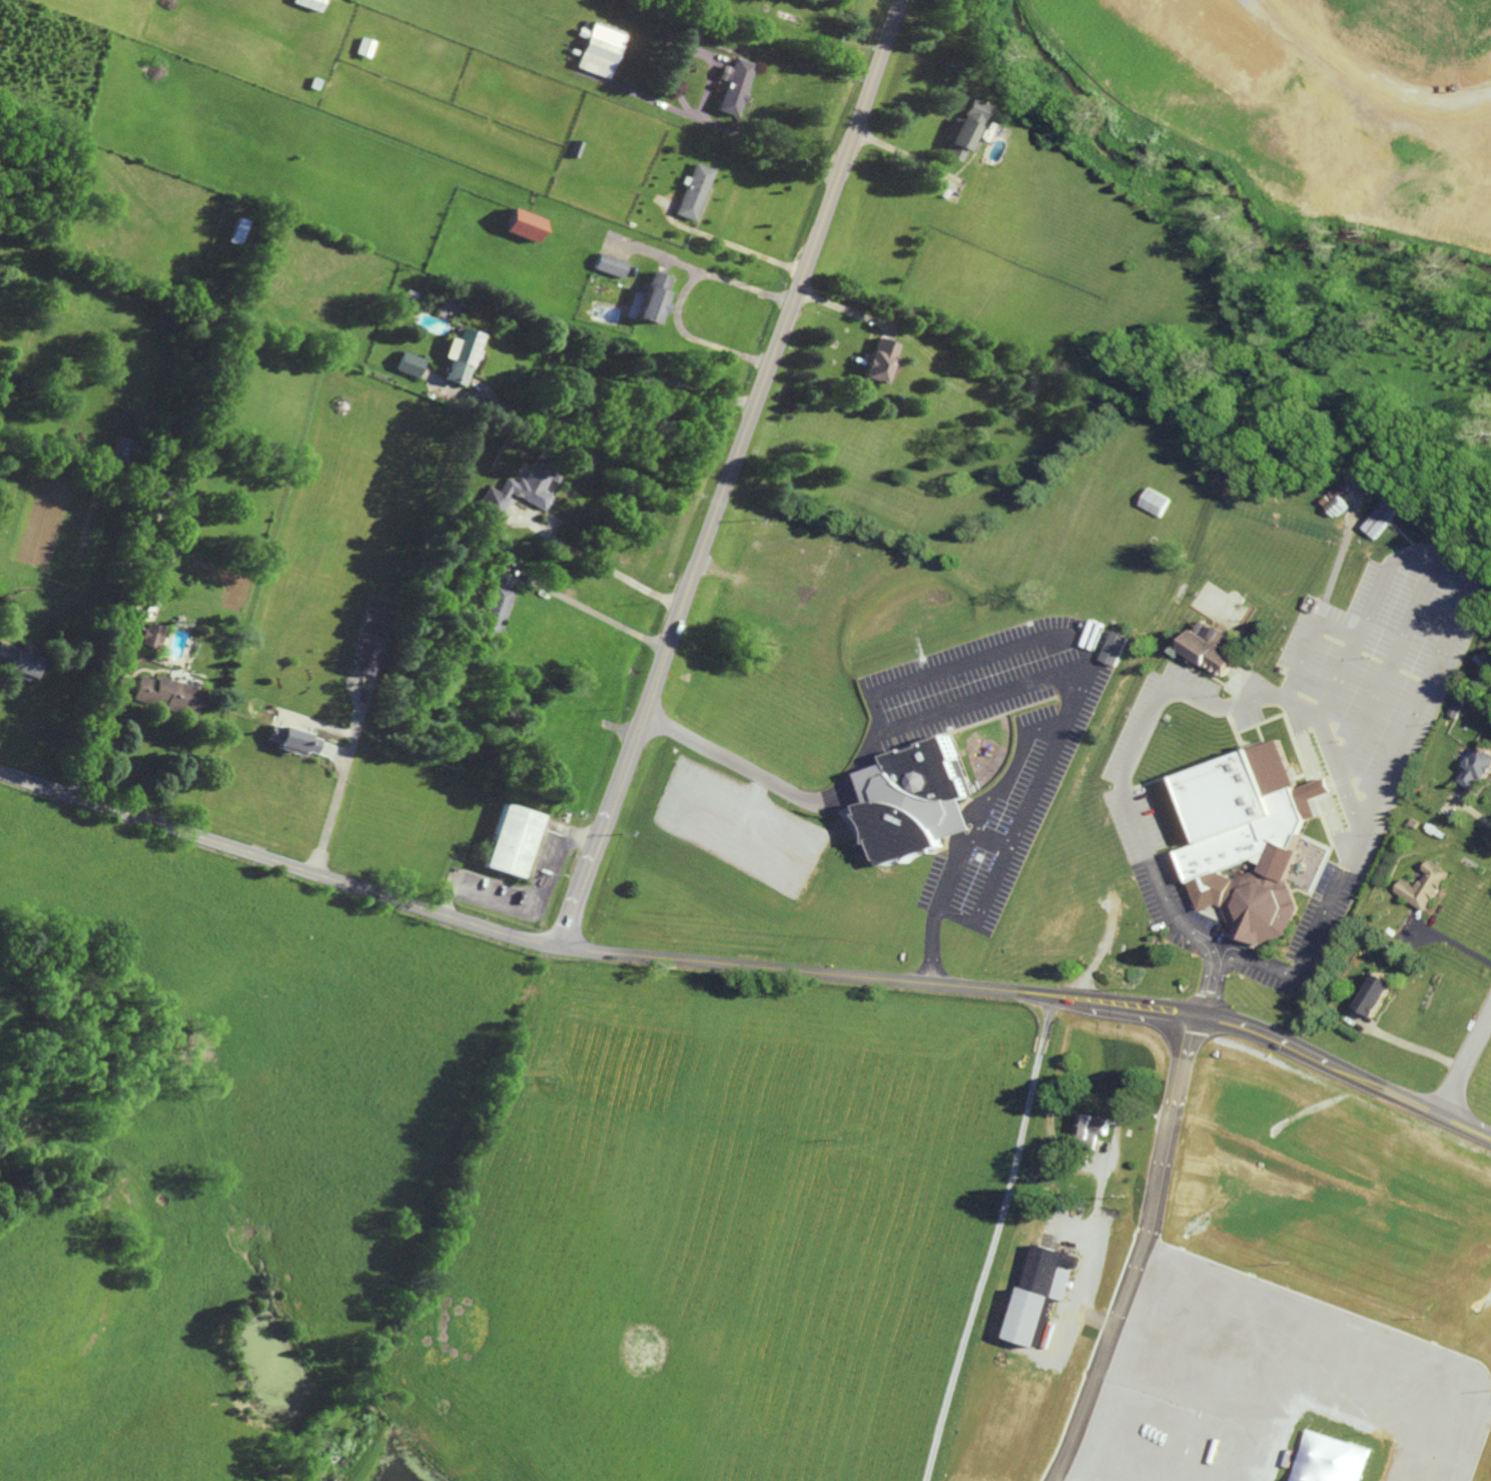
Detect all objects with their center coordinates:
building: (366, 47)
building: (602, 50)
road: (1360, 78)
building: (735, 86)
road: (695, 111)
building: (963, 130)
building: (577, 148)
road: (898, 151)
building: (1481, 184)
building: (695, 191)
building: (526, 225)
road: (726, 243)
building: (613, 265)
building: (653, 305)
road: (843, 310)
building: (463, 356)
road: (771, 356)
building: (879, 360)
building: (412, 364)
road: (621, 385)
building: (122, 449)
building: (1340, 490)
building: (520, 491)
building: (1380, 519)
road: (1333, 562)
road: (611, 570)
road: (1381, 574)
road: (1412, 607)
building: (496, 610)
road: (594, 613)
building: (376, 624)
building: (153, 636)
building: (1111, 648)
building: (1208, 648)
building: (365, 657)
building: (20, 660)
road: (976, 662)
road: (1425, 670)
building: (169, 694)
road: (1299, 708)
road: (925, 717)
road: (321, 725)
road: (94, 735)
building: (292, 740)
road: (1018, 758)
road: (1347, 764)
building: (1474, 769)
road: (342, 778)
building: (913, 802)
road: (1470, 816)
road: (979, 818)
road: (601, 830)
building: (1247, 839)
building: (512, 840)
road: (956, 857)
building: (1421, 886)
road: (988, 889)
road: (1164, 896)
road: (535, 907)
road: (953, 920)
road: (929, 948)
road: (746, 967)
road: (1211, 982)
building: (1374, 994)
road: (1413, 1046)
road: (1466, 1066)
building: (1092, 1127)
road: (993, 1239)
road: (1132, 1249)
building: (1041, 1292)

